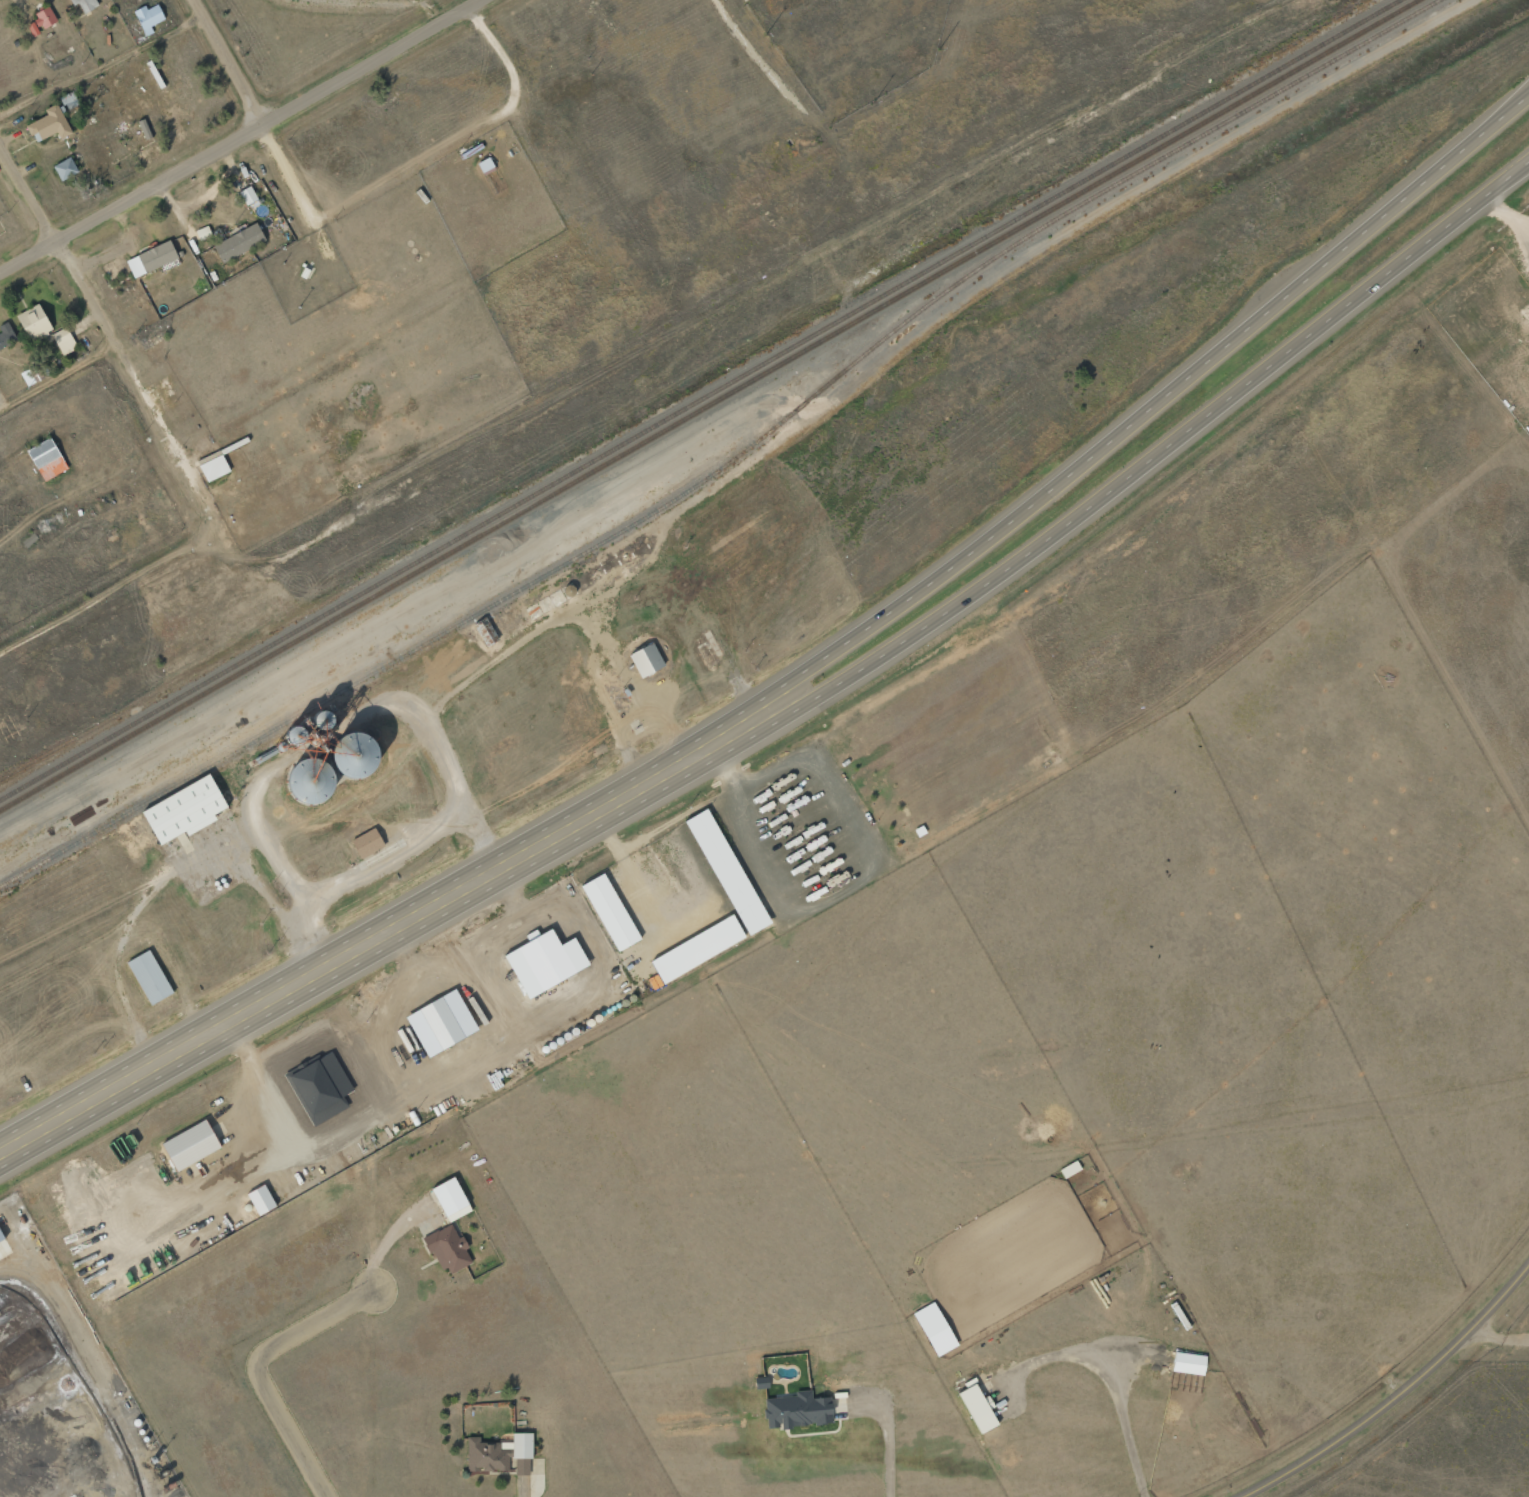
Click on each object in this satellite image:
building: (84, 4)
building: (148, 17)
building: (42, 20)
park: (305, 37)
park: (852, 45)
park: (851, 56)
road: (227, 60)
road: (98, 64)
building: (49, 123)
building: (145, 129)
road: (236, 136)
building: (65, 167)
building: (247, 194)
building: (238, 241)
building: (151, 258)
road: (105, 318)
building: (34, 322)
building: (6, 334)
building: (64, 340)
road: (58, 371)
building: (30, 375)
railway: (698, 400)
railway: (707, 404)
road: (1143, 412)
building: (46, 458)
road: (1152, 458)
railway: (730, 461)
building: (213, 465)
road: (105, 559)
building: (646, 659)
building: (309, 781)
building: (184, 810)
building: (367, 843)
building: (727, 858)
building: (609, 898)
building: (697, 935)
road: (379, 940)
building: (544, 950)
building: (149, 964)
building: (440, 1010)
building: (191, 1132)
building: (450, 1185)
building: (261, 1188)
building: (447, 1237)
building: (935, 1328)
building: (1188, 1362)
road: (256, 1363)
road: (1399, 1397)
building: (978, 1407)
building: (796, 1409)
building: (485, 1444)
building: (522, 1444)

